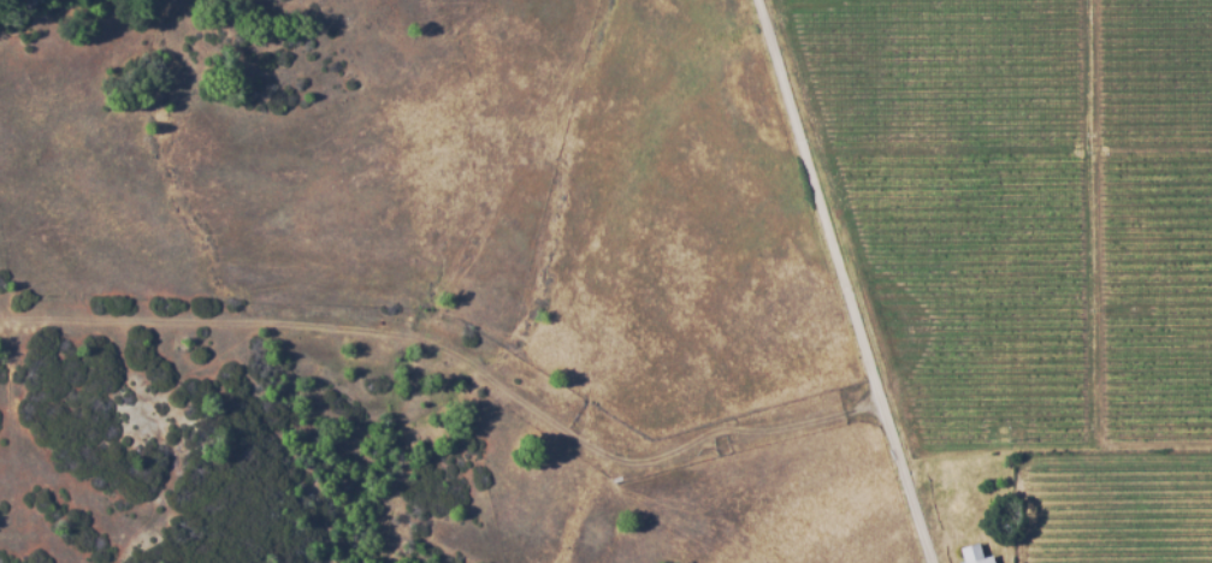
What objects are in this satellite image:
road: (841, 280)
building: (972, 555)

